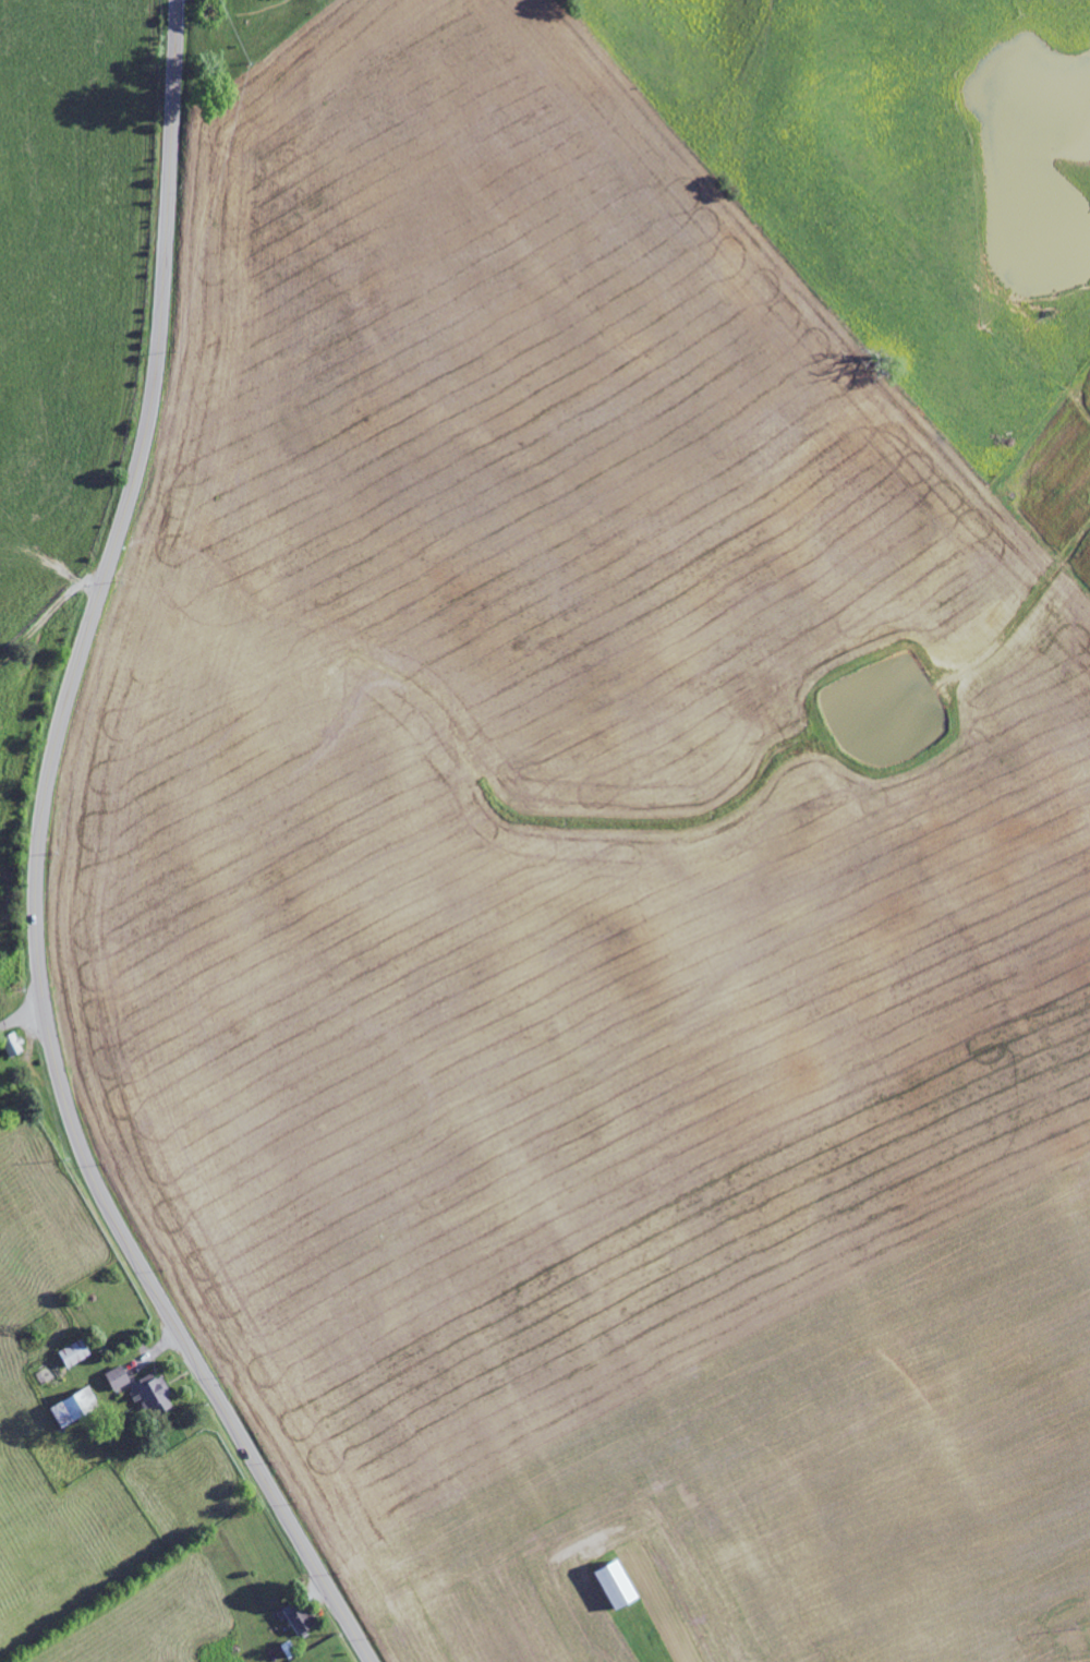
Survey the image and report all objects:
road: (77, 347)
road: (36, 864)
road: (21, 1015)
building: (12, 1045)
building: (74, 1353)
building: (117, 1378)
building: (152, 1395)
building: (75, 1407)
building: (618, 1583)
building: (299, 1618)

